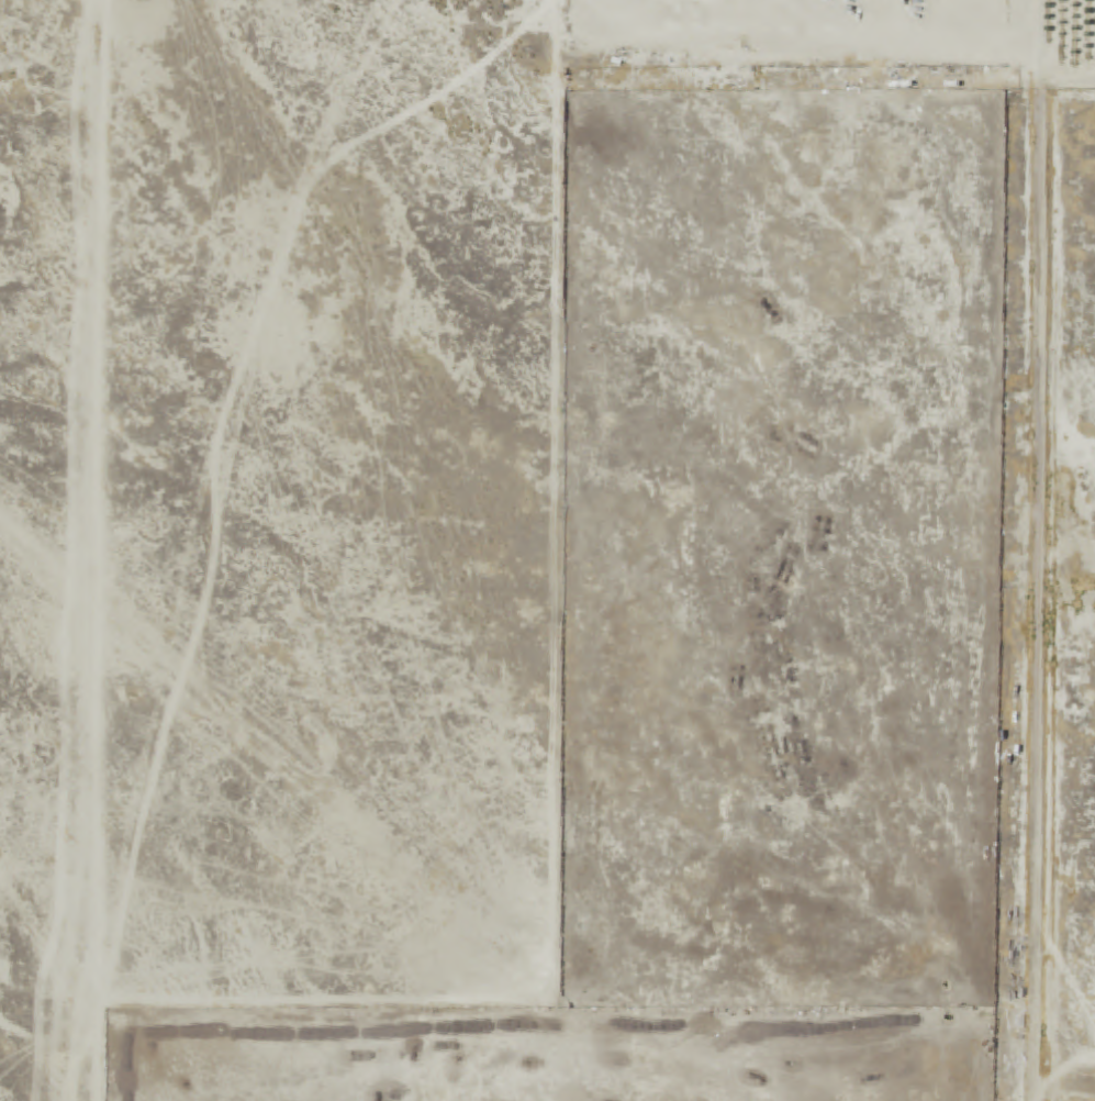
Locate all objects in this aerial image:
road: (1041, 41)
road: (1068, 81)
road: (1033, 591)

